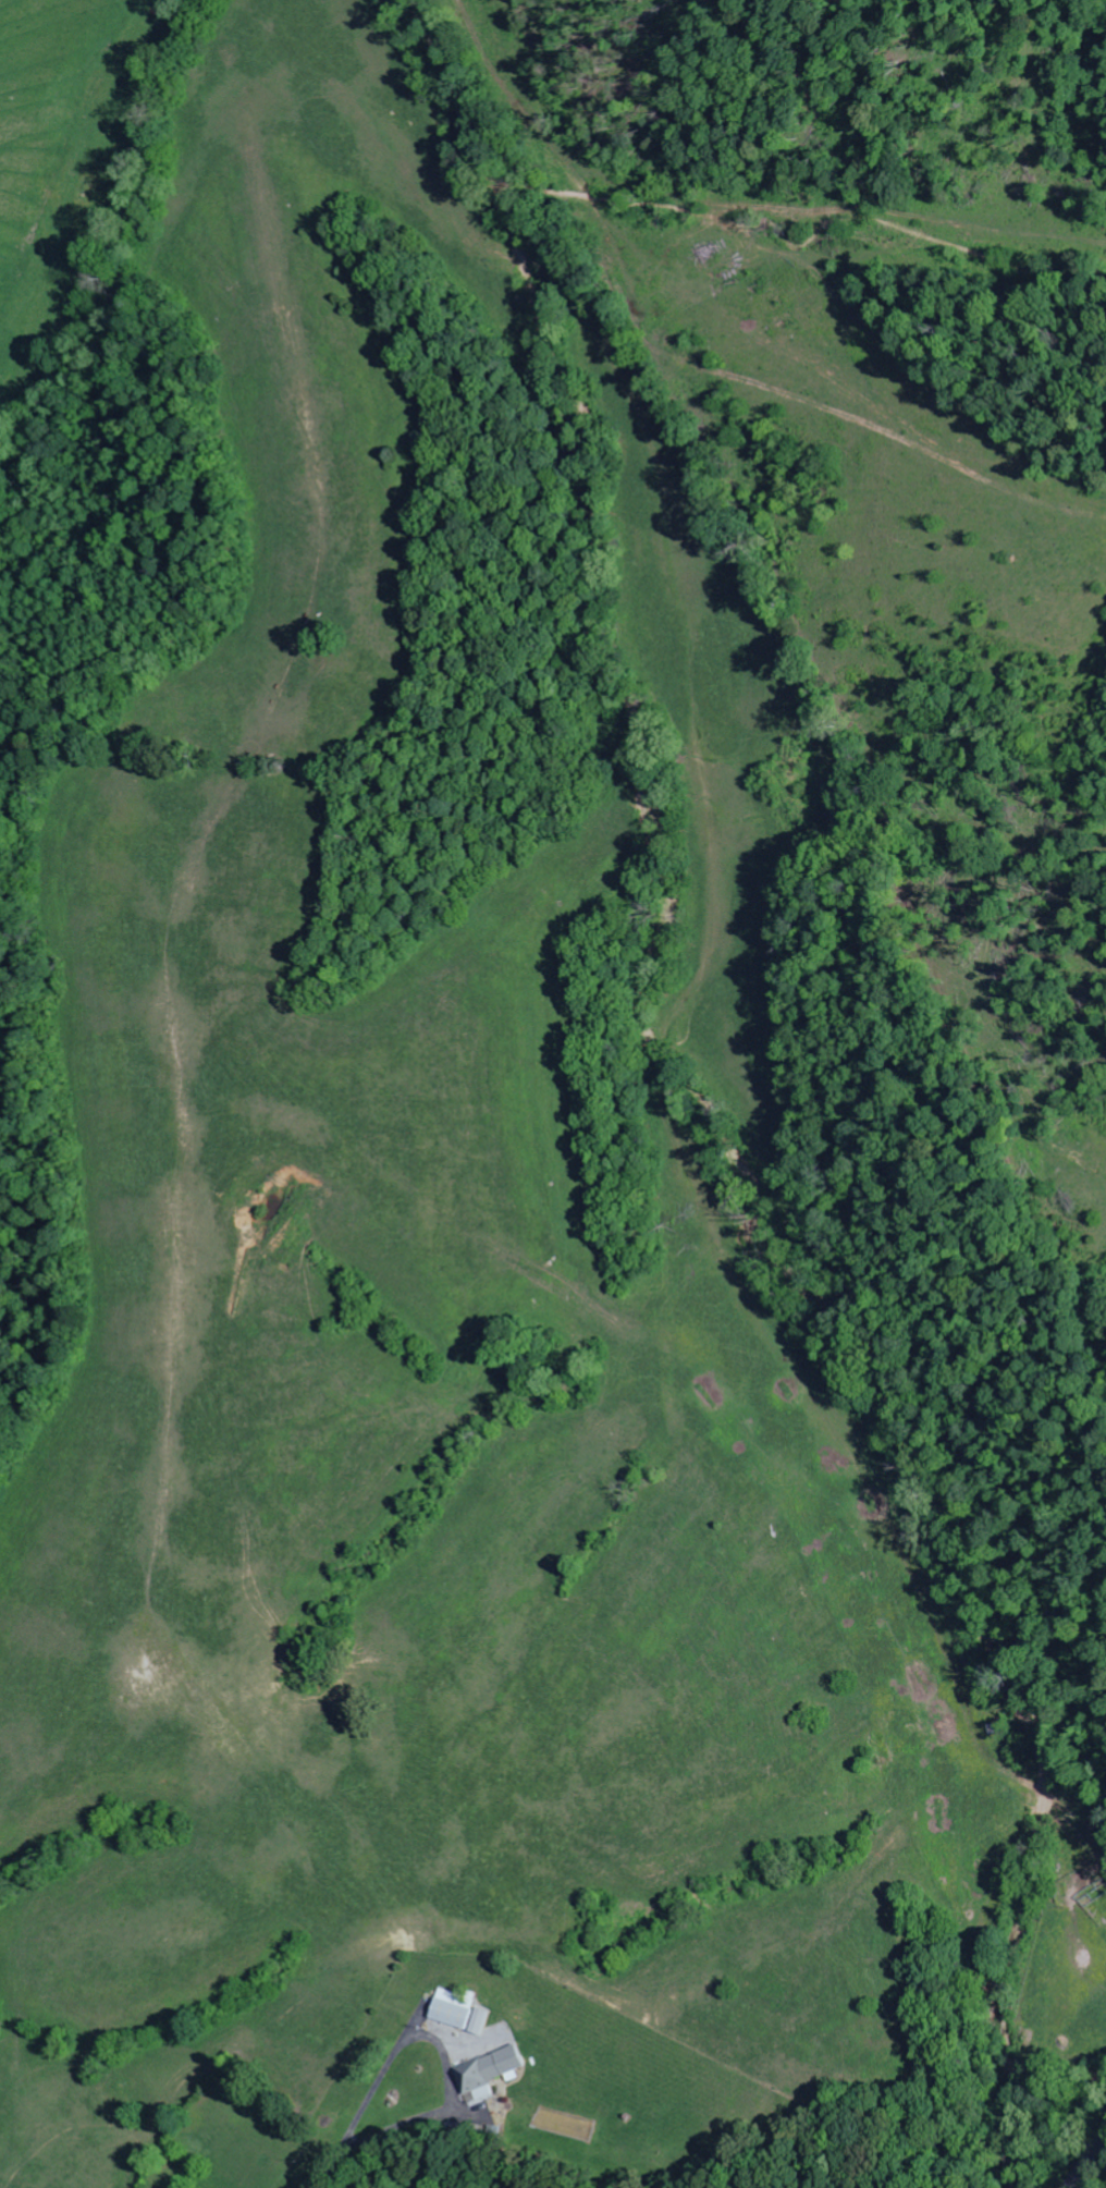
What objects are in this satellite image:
building: (480, 2021)
building: (488, 2073)
road: (1087, 2161)

